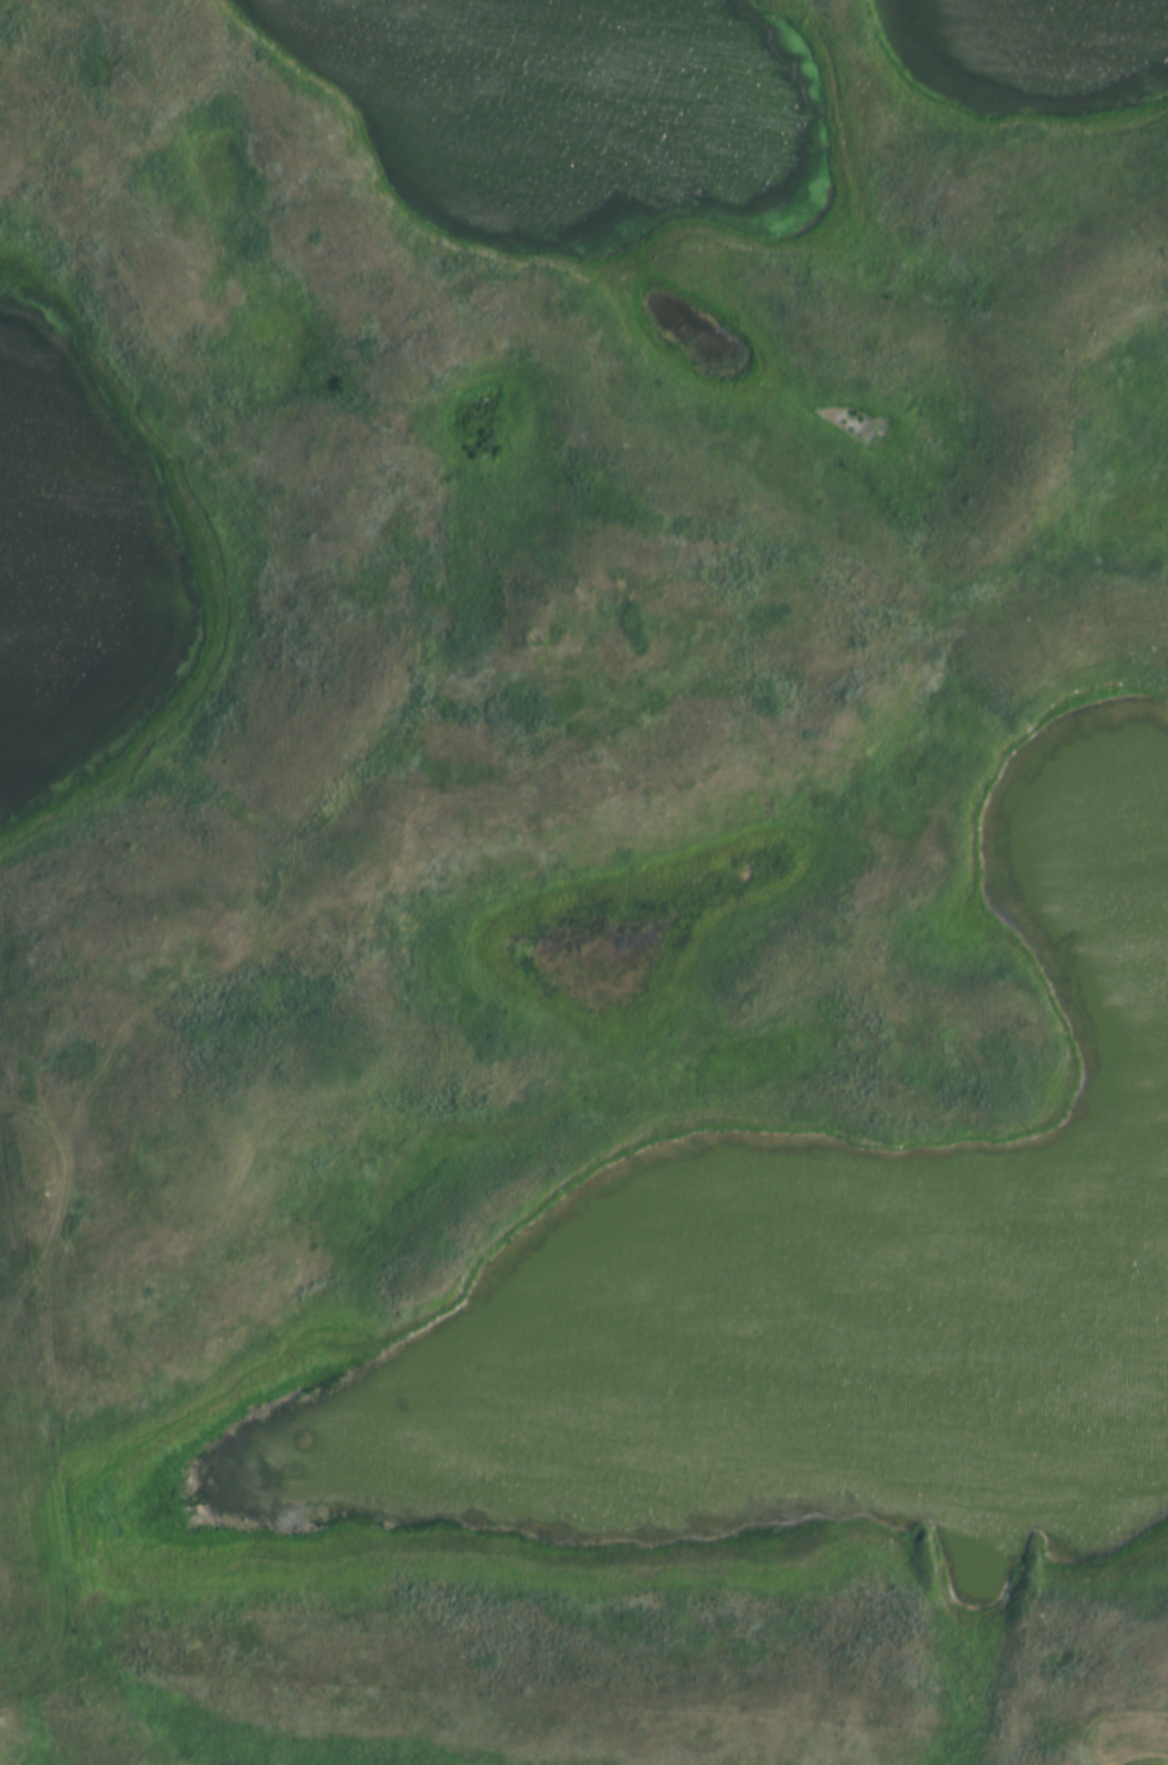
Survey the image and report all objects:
road: (580, 1709)

